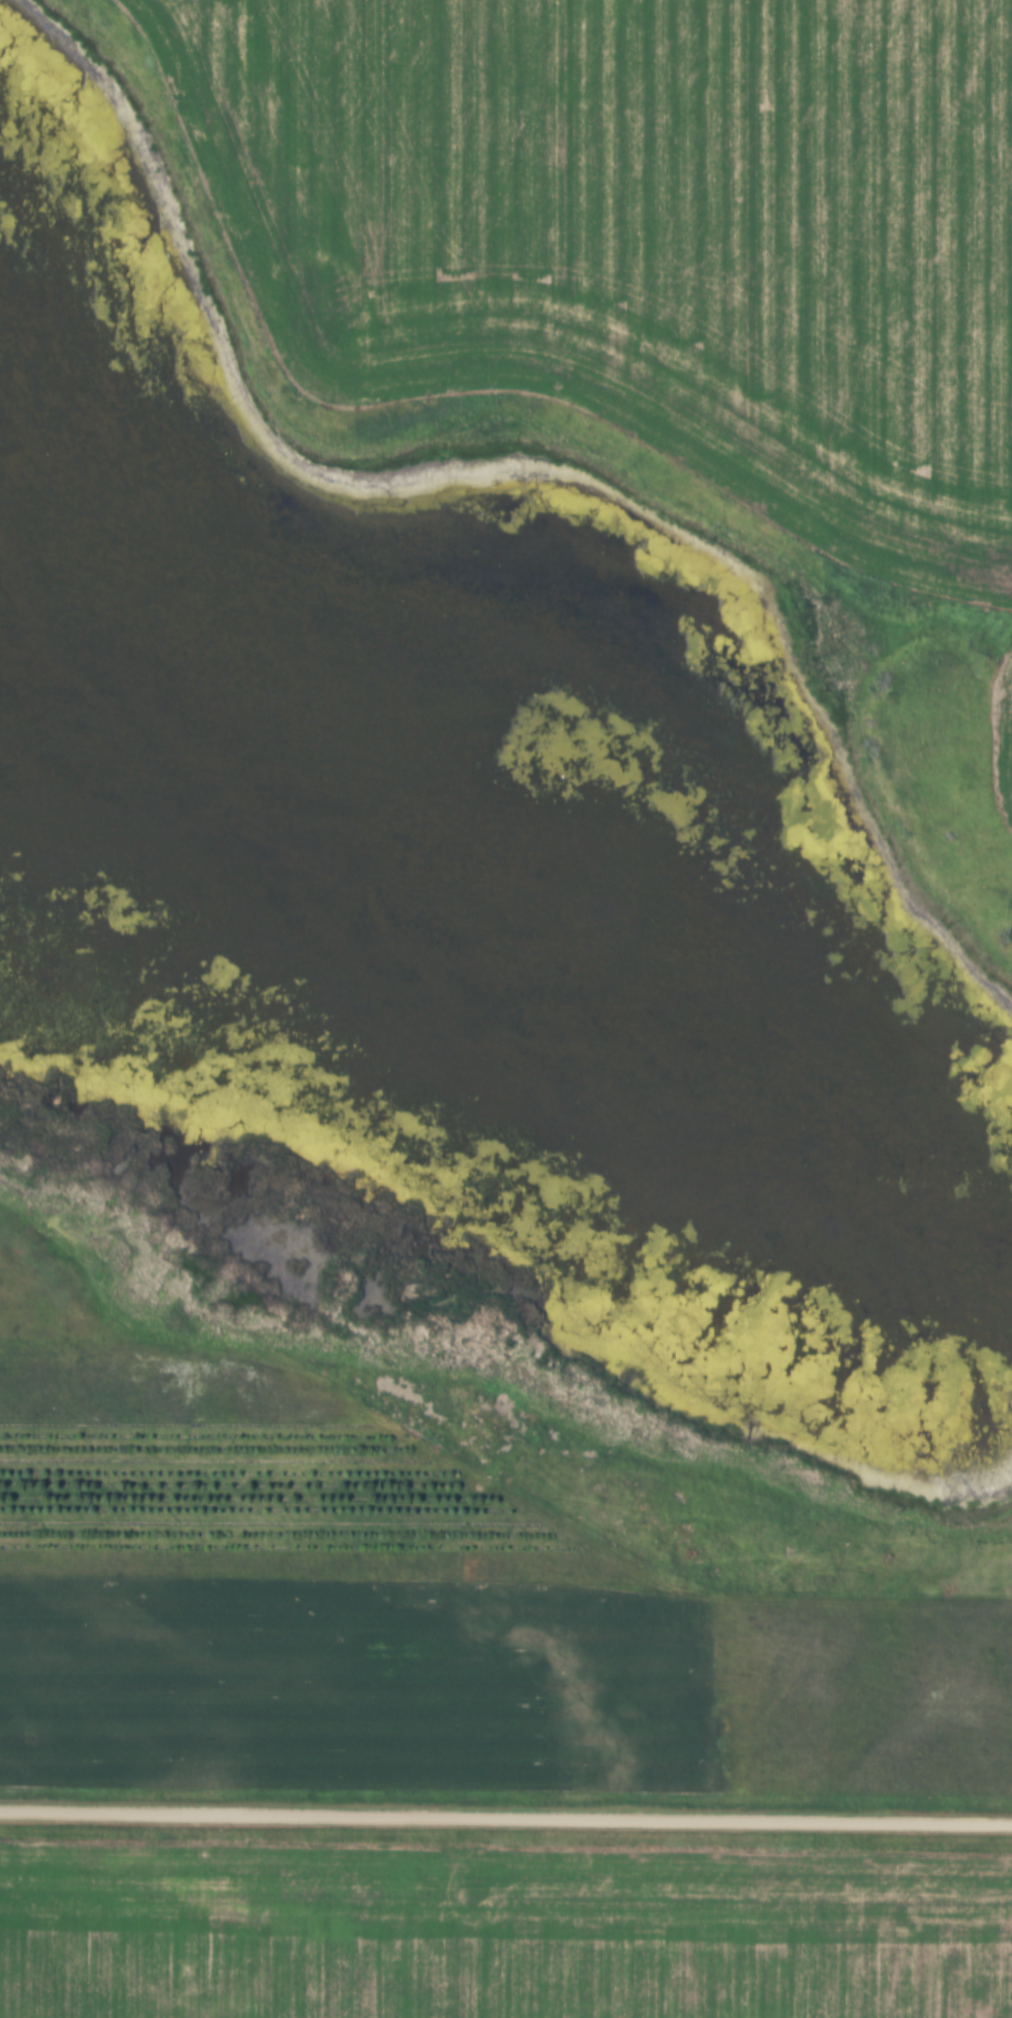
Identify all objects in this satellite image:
road: (505, 1815)

